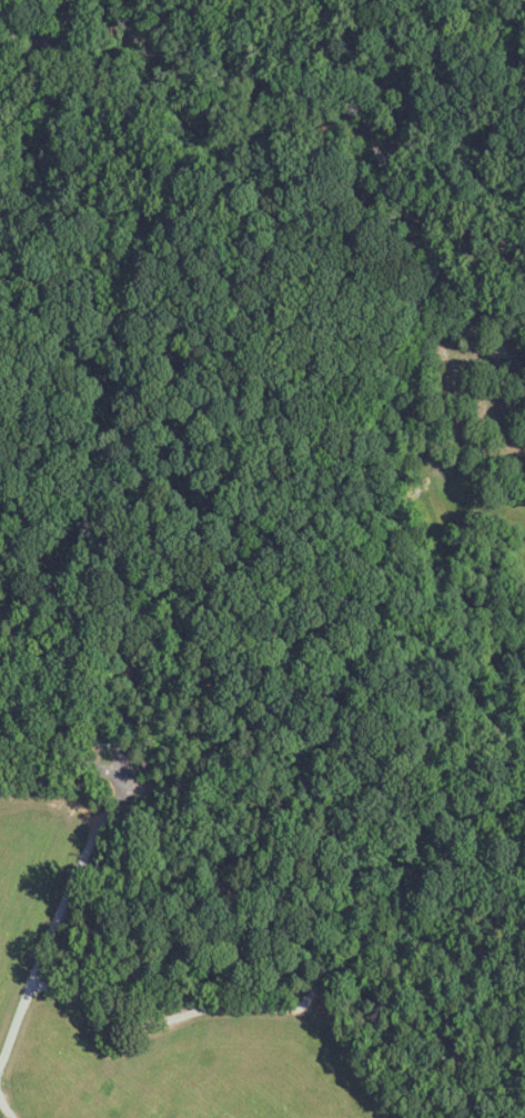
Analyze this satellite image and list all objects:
road: (49, 940)

